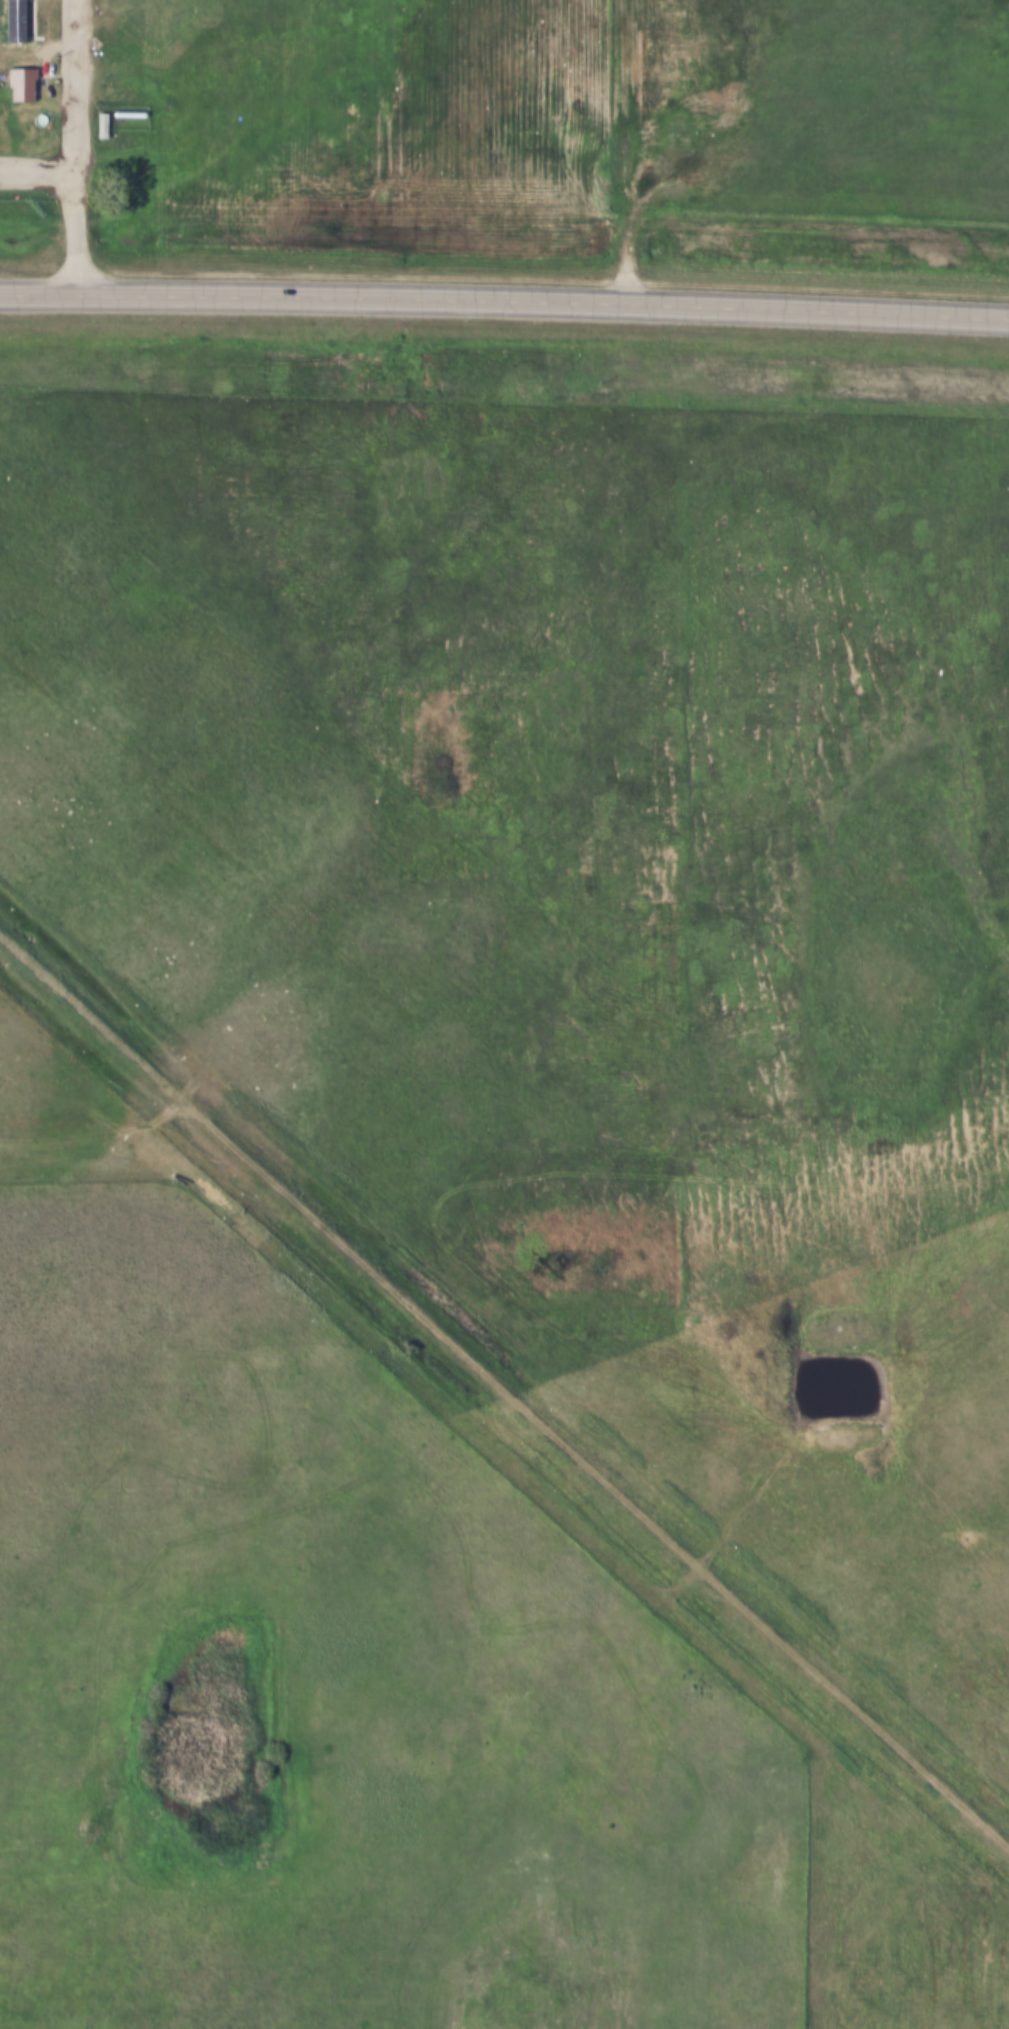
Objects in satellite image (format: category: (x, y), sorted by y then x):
building: (9, 21)
building: (15, 82)
building: (96, 124)
building: (105, 128)
road: (75, 144)
road: (636, 149)
road: (38, 170)
road: (504, 296)
road: (96, 1119)

